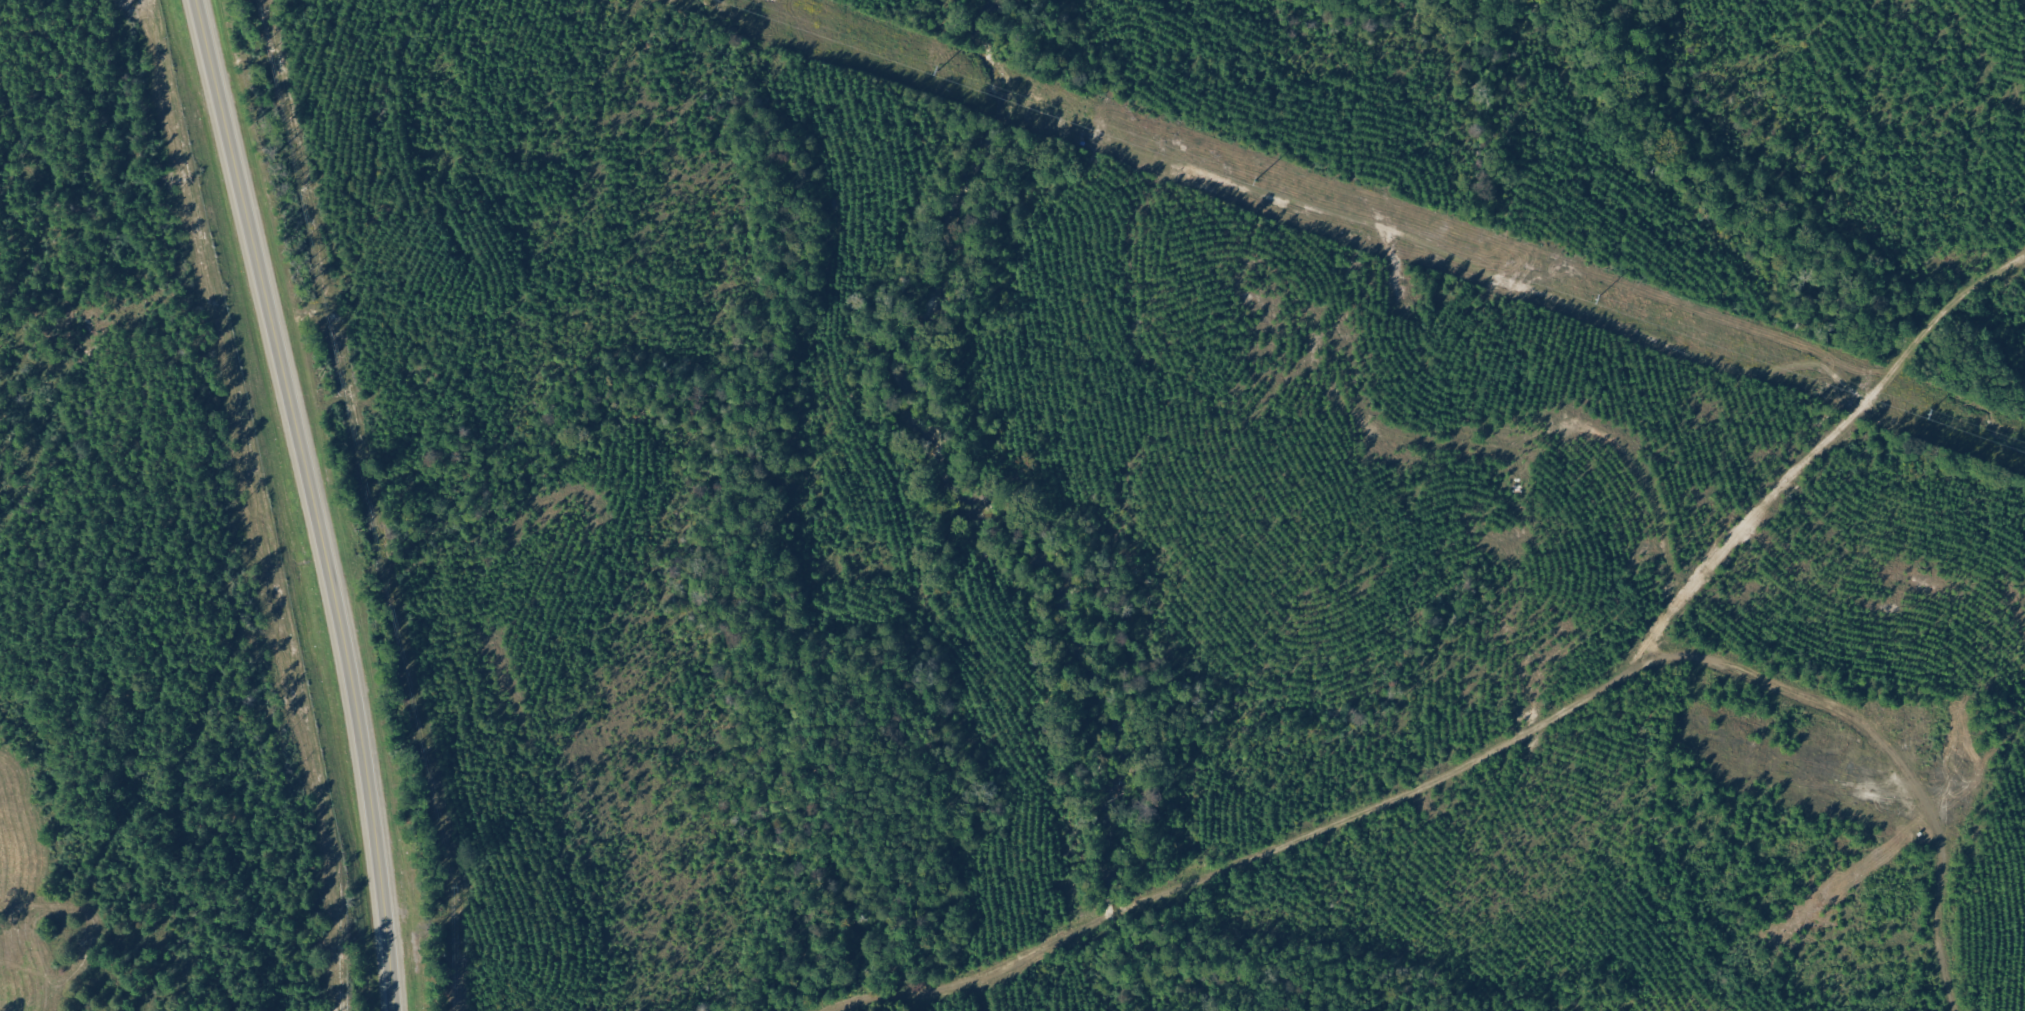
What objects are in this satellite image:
road: (312, 502)

